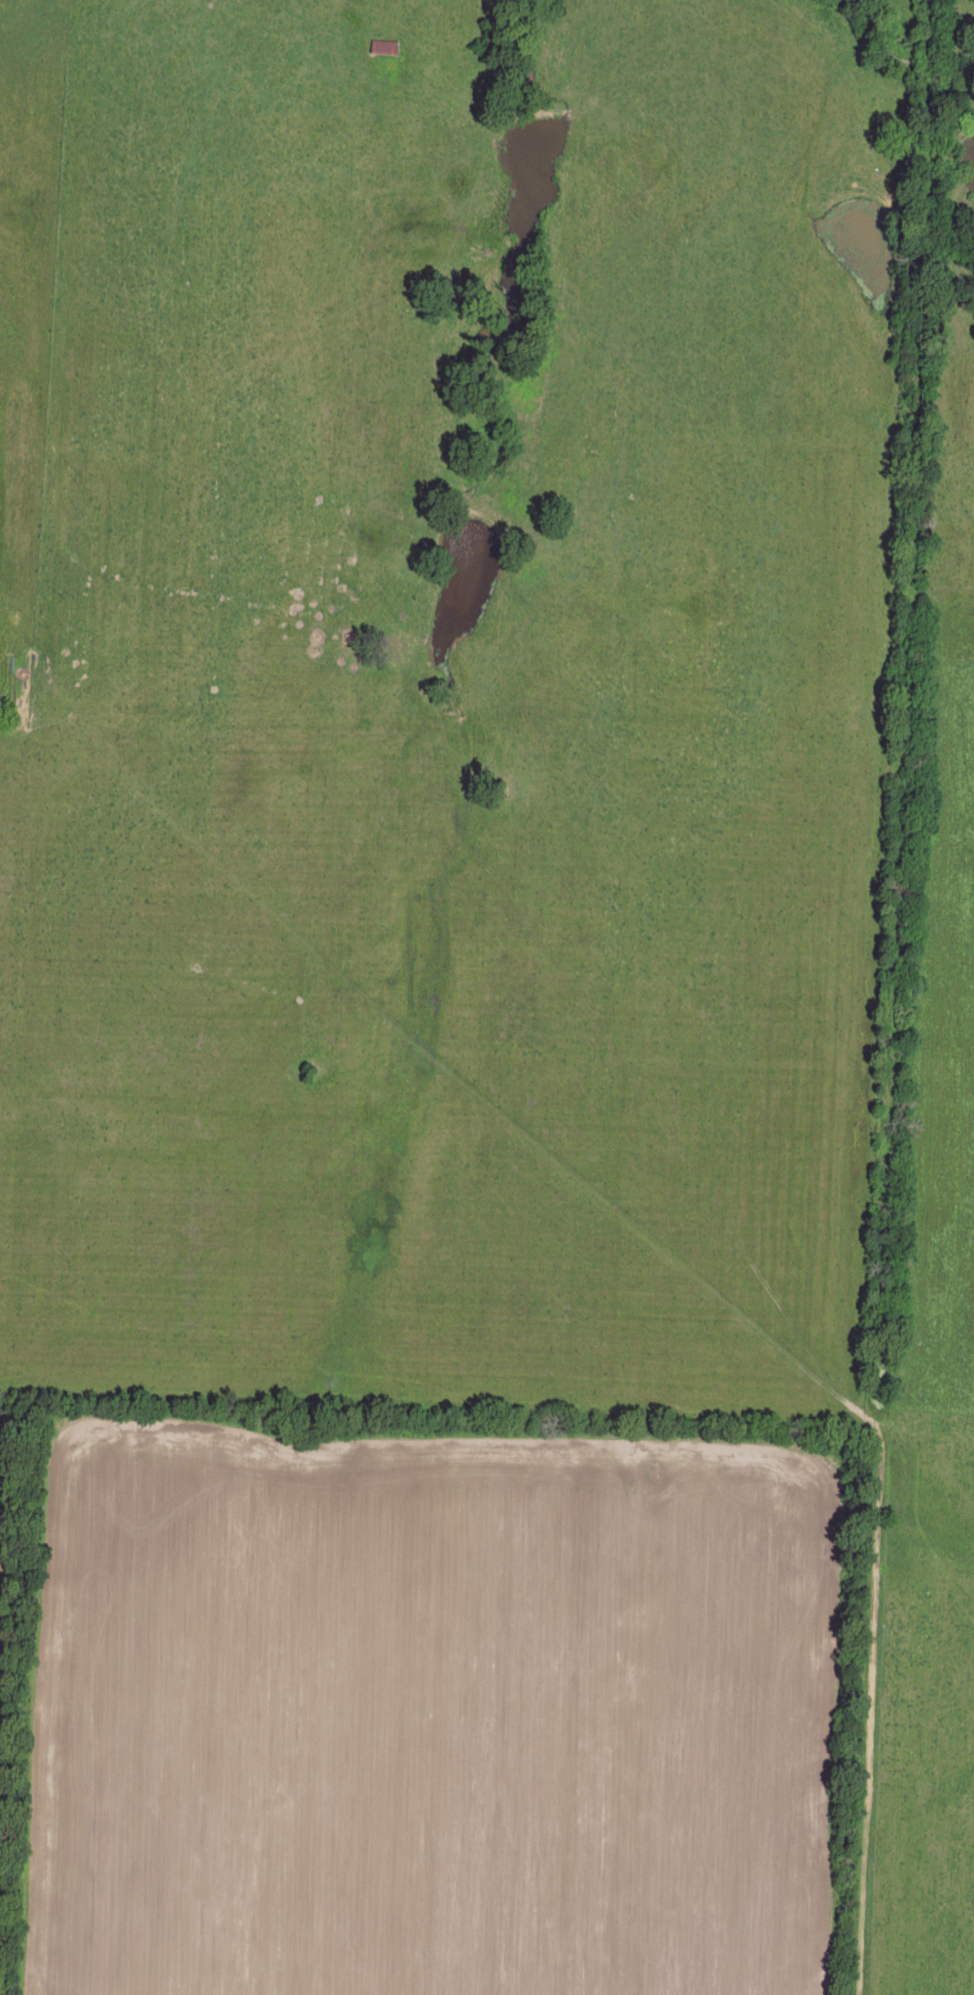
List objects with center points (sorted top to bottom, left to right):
road: (895, 997)

